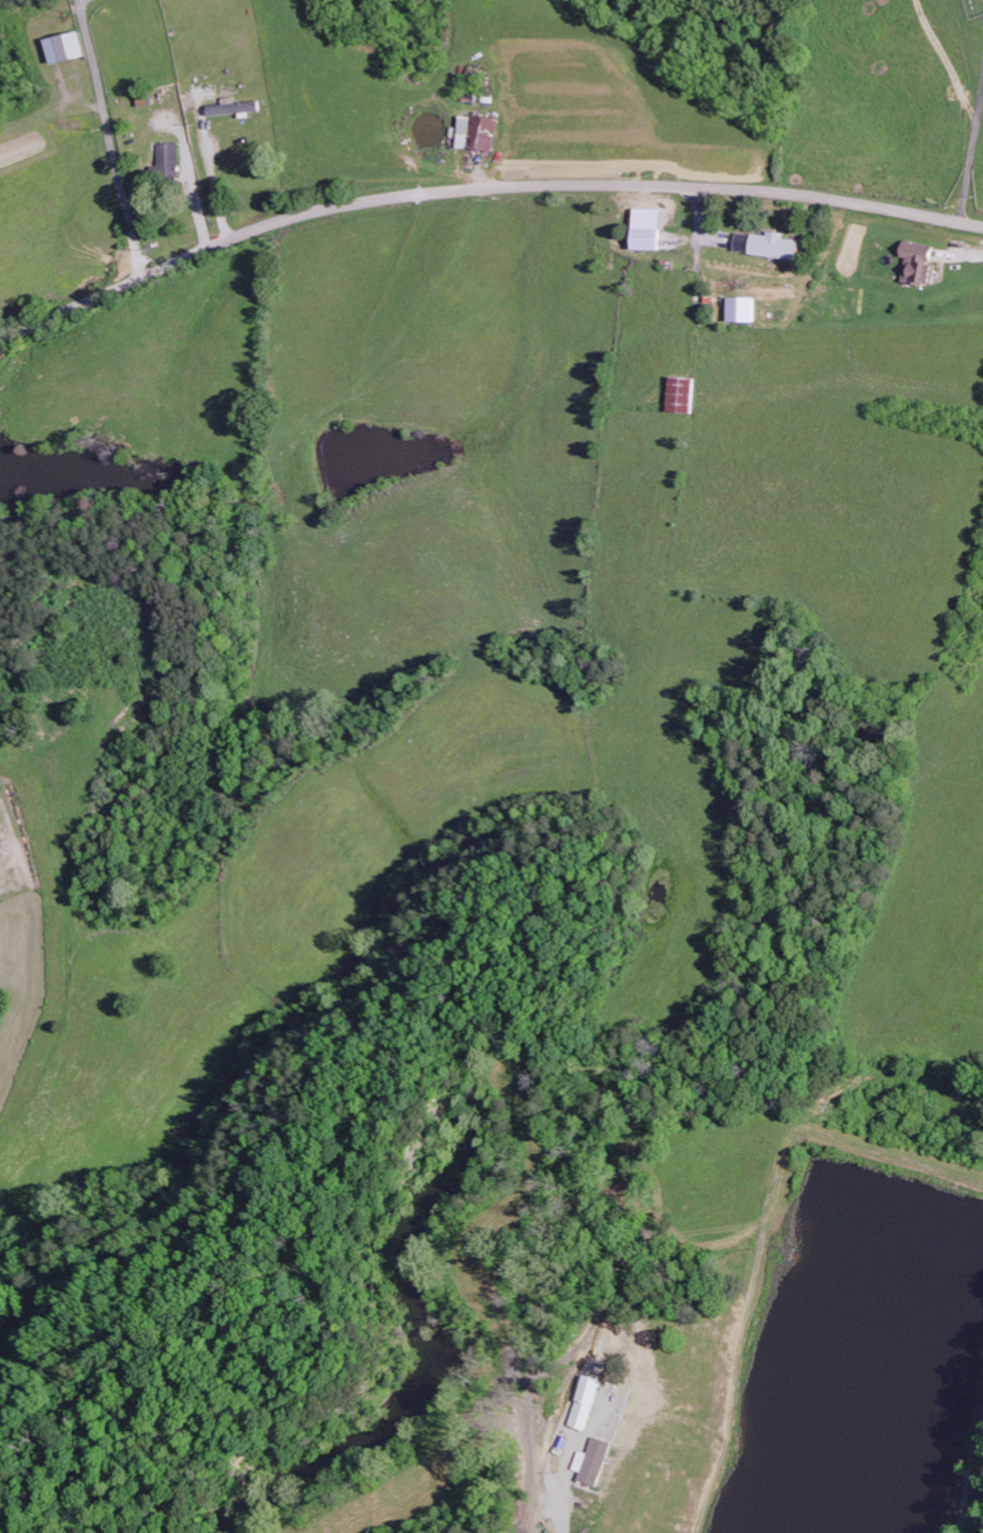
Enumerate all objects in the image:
building: (77, 47)
building: (236, 107)
building: (478, 133)
building: (172, 161)
road: (479, 188)
building: (651, 240)
building: (744, 243)
building: (778, 247)
building: (922, 264)
building: (743, 310)
building: (683, 395)
building: (584, 1403)
building: (593, 1462)

